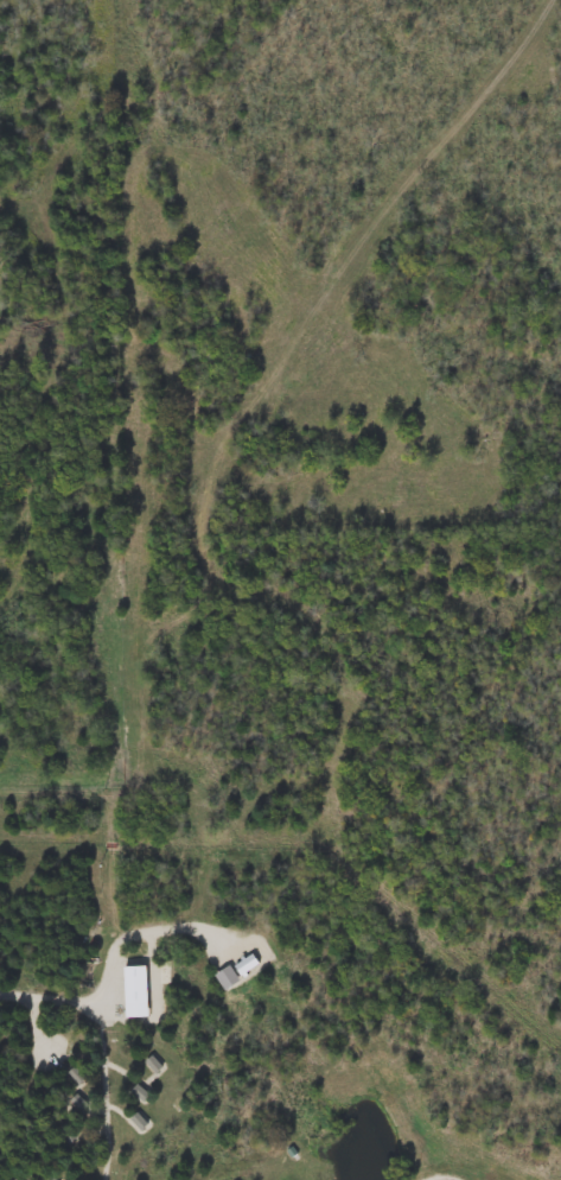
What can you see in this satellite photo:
road: (139, 932)
road: (108, 1045)

